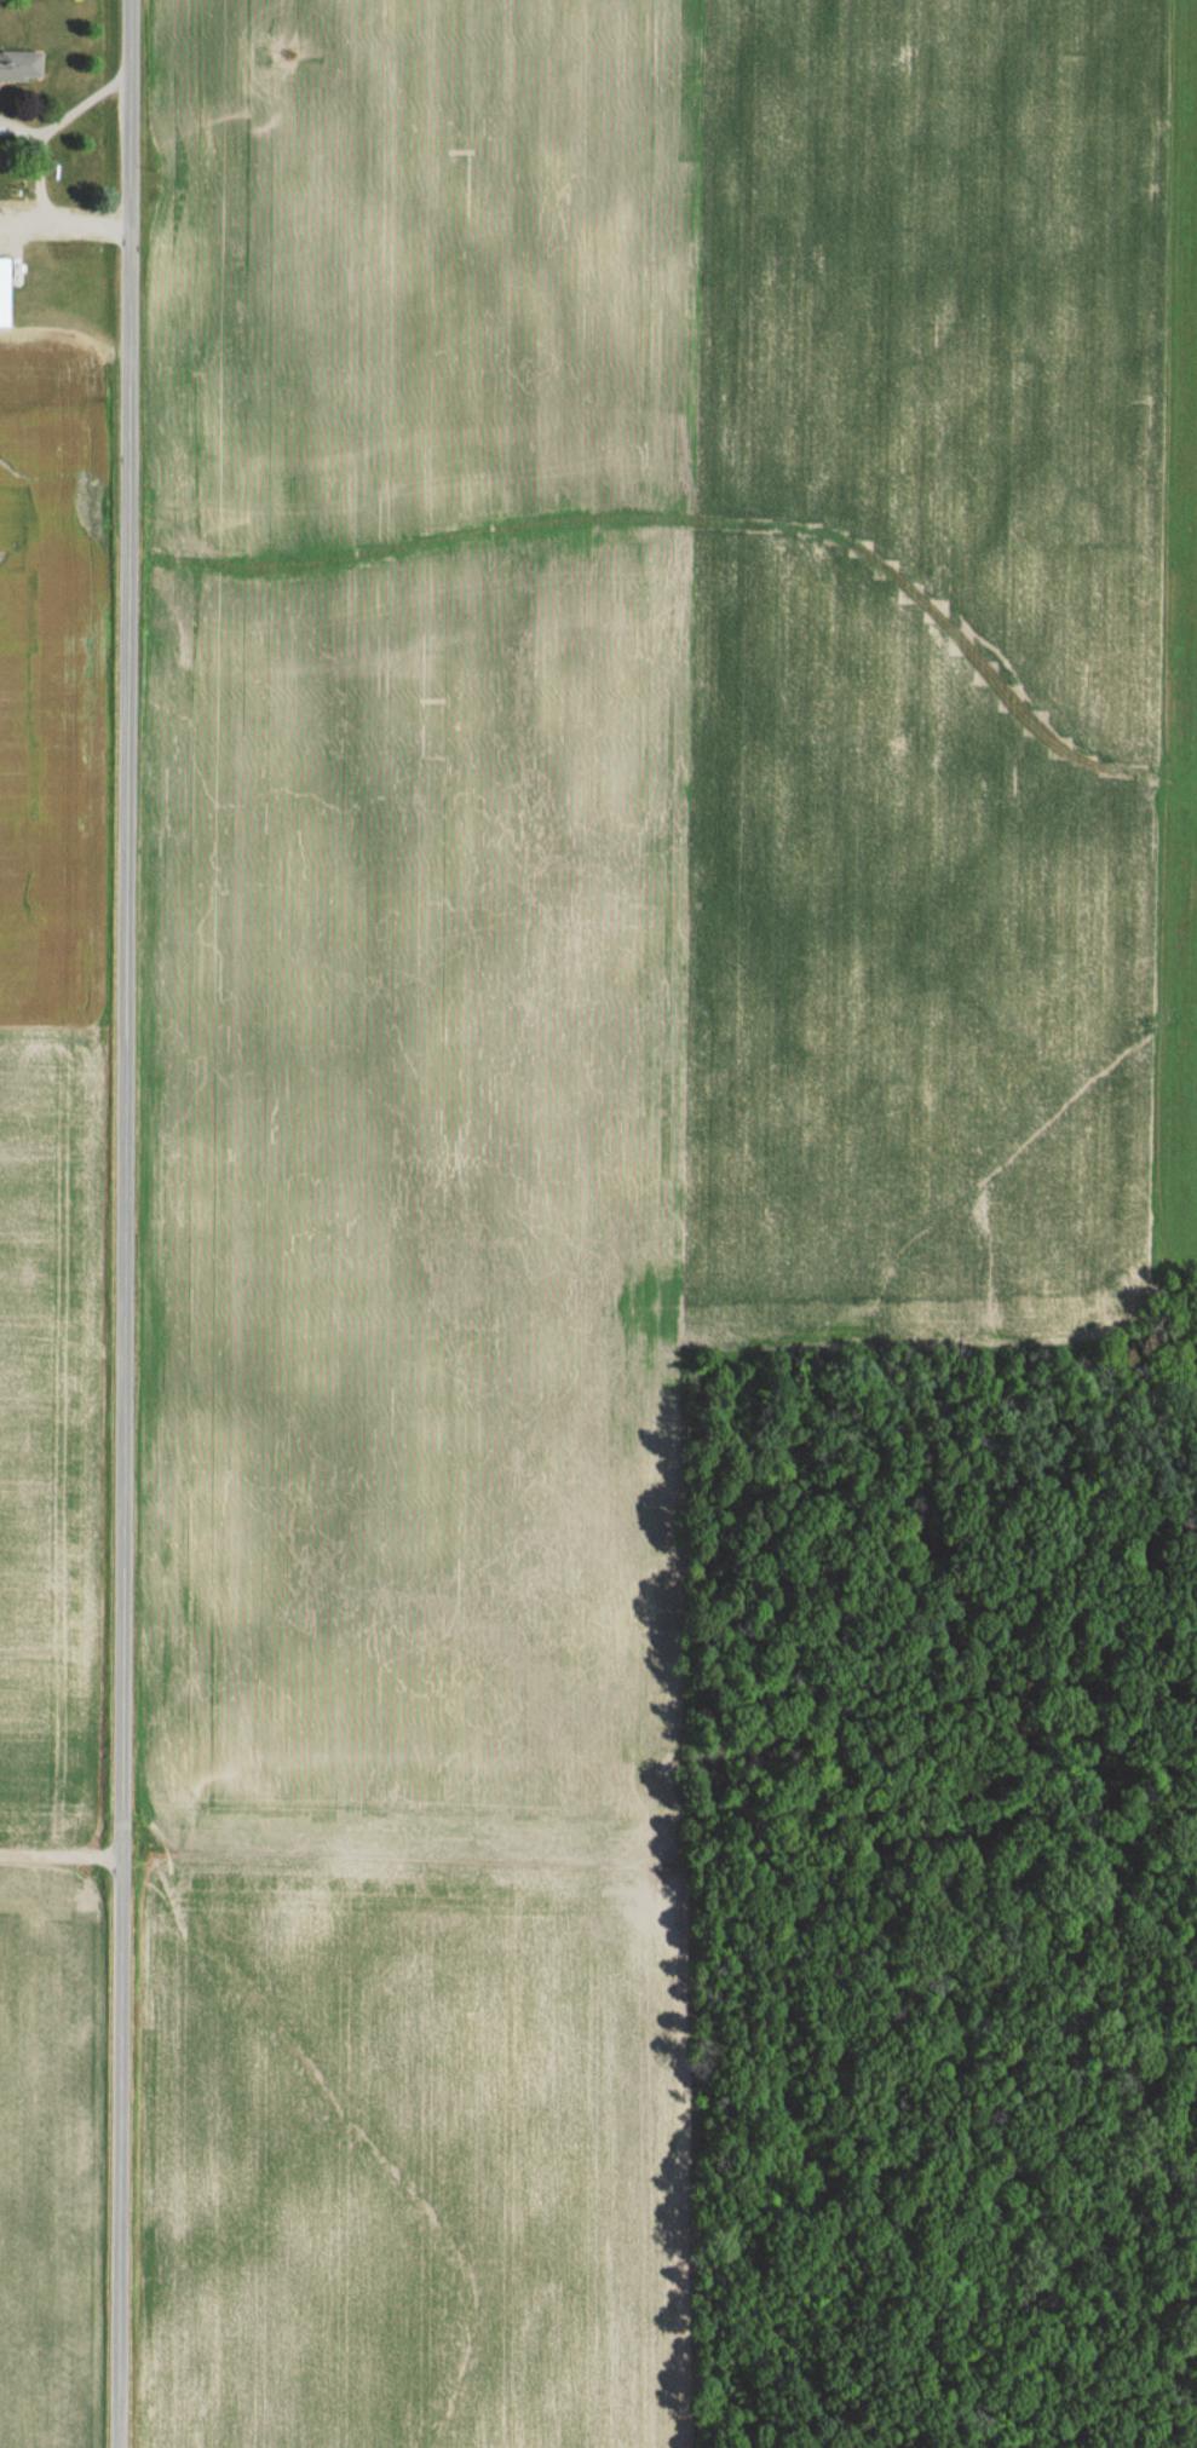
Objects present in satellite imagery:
building: (23, 62)
building: (0, 85)
road: (68, 111)
road: (42, 217)
building: (68, 237)
building: (6, 289)
road: (123, 1223)
road: (61, 1855)

